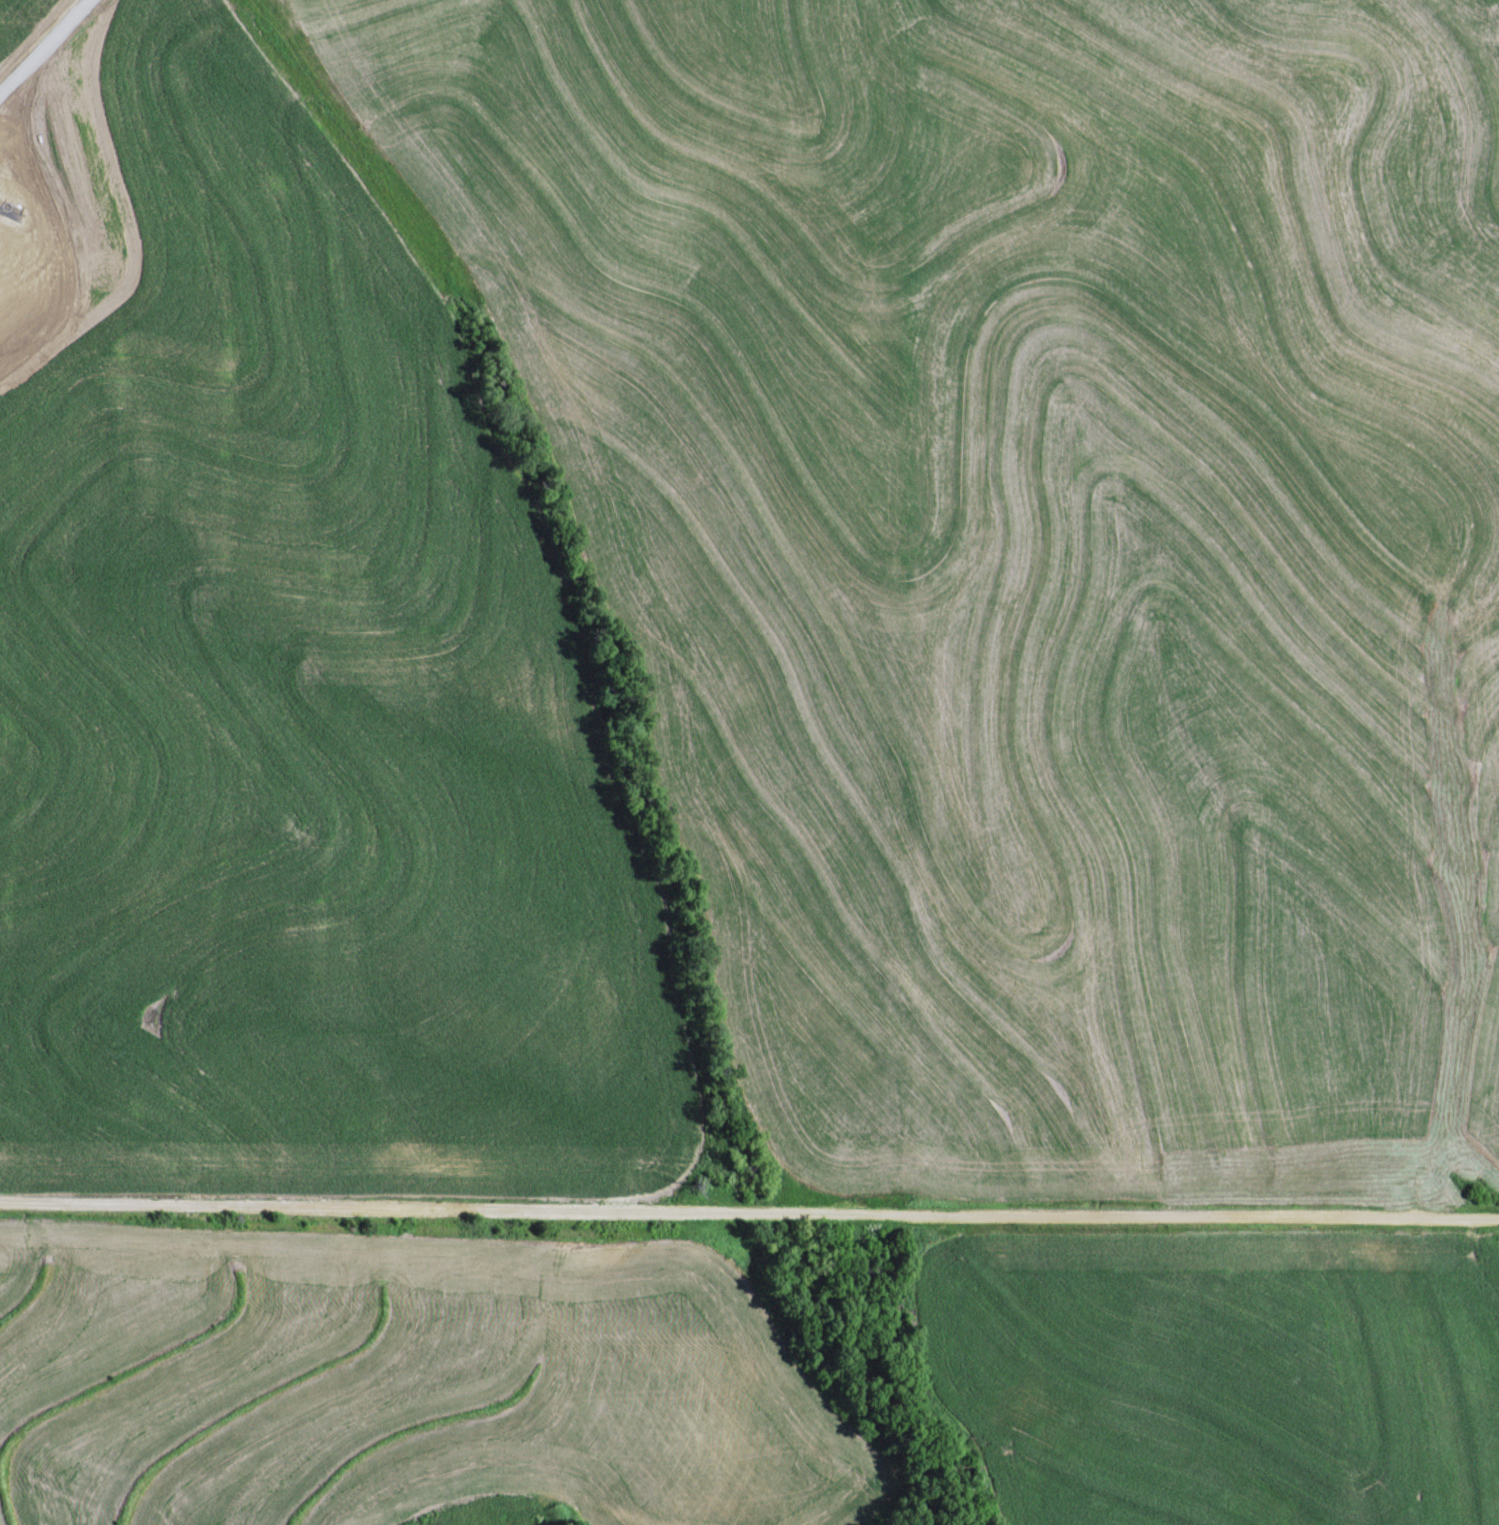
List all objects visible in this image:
road: (749, 1210)

